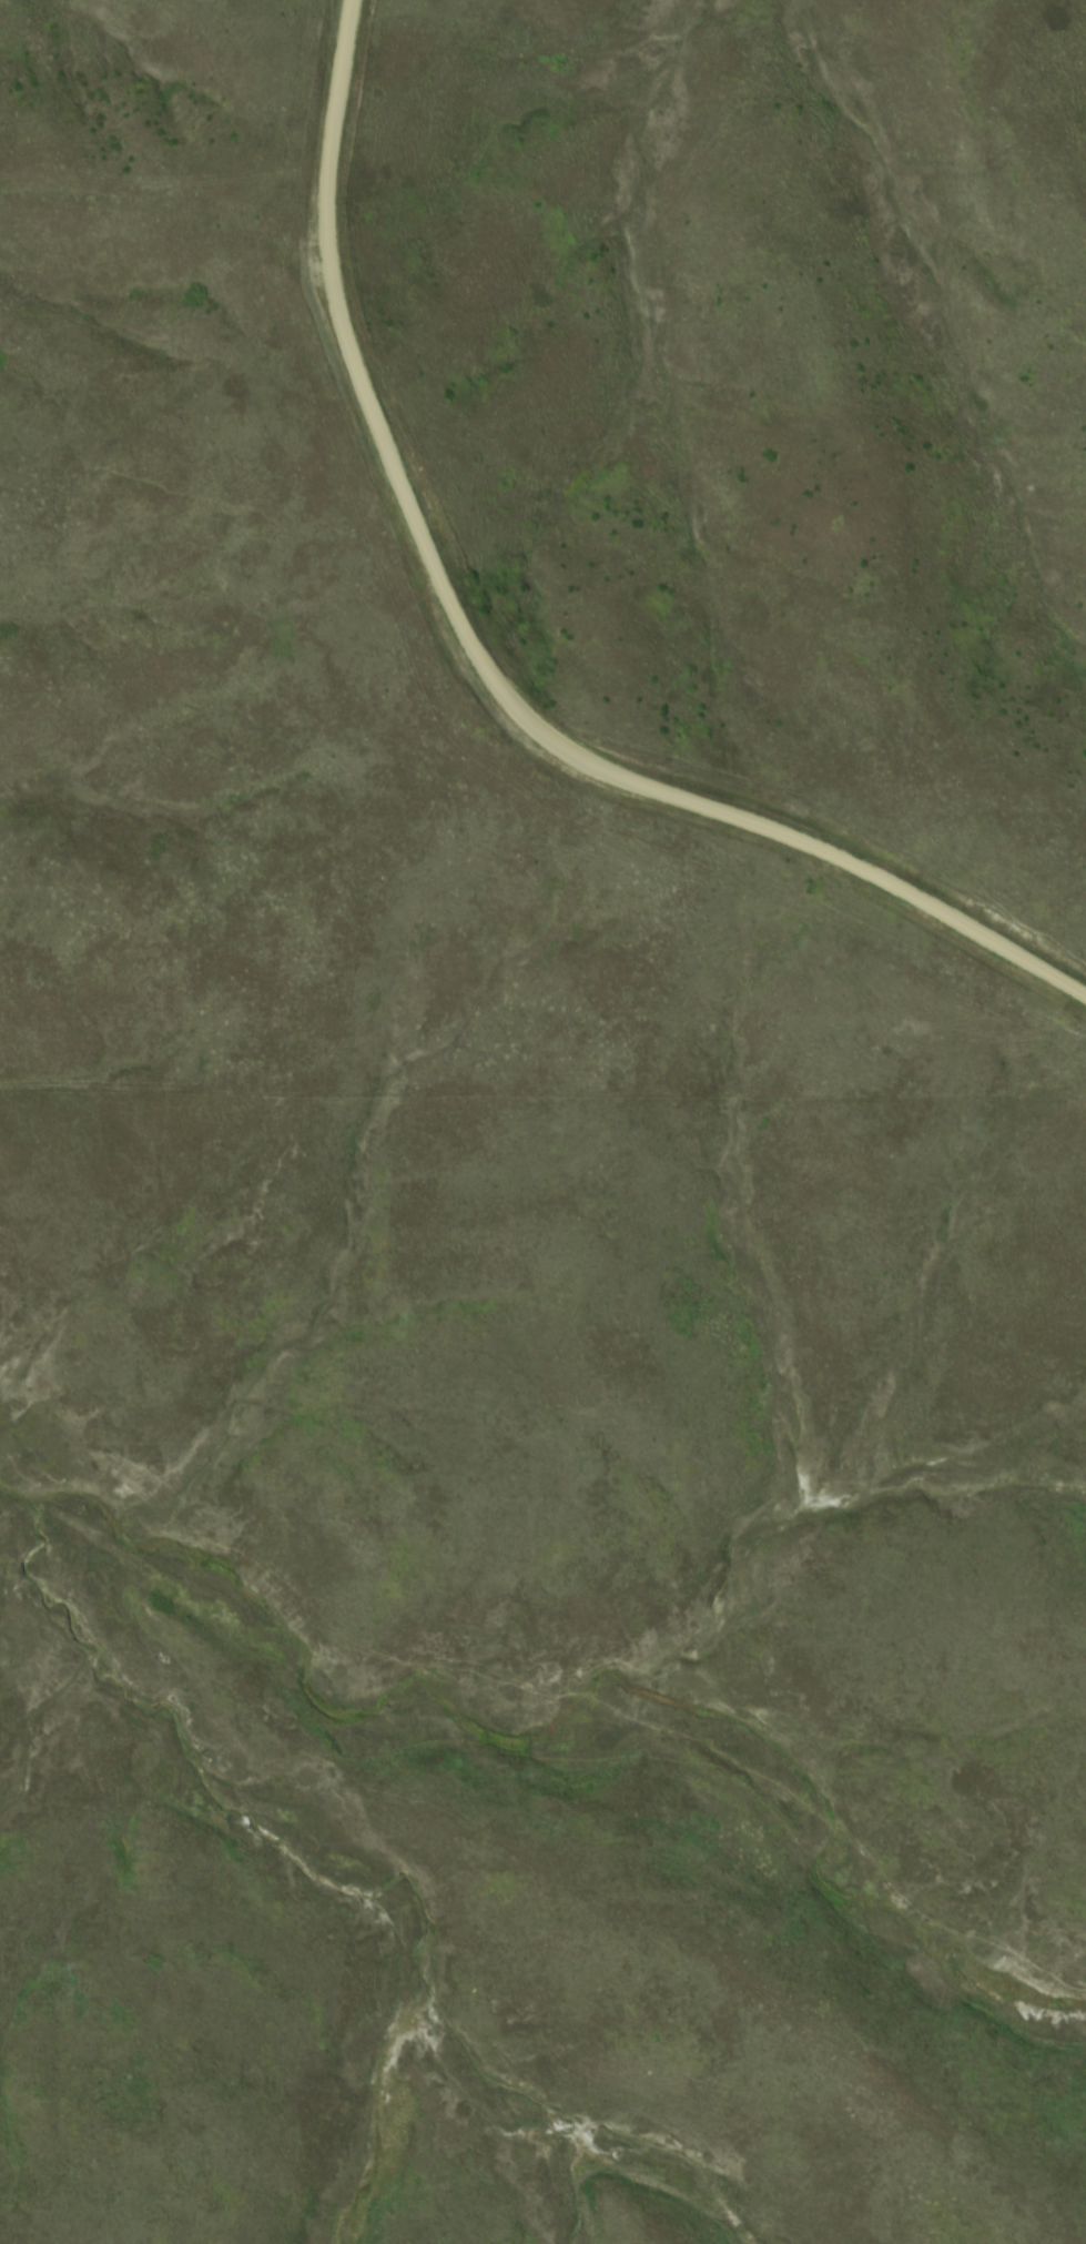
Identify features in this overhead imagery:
road: (487, 659)

